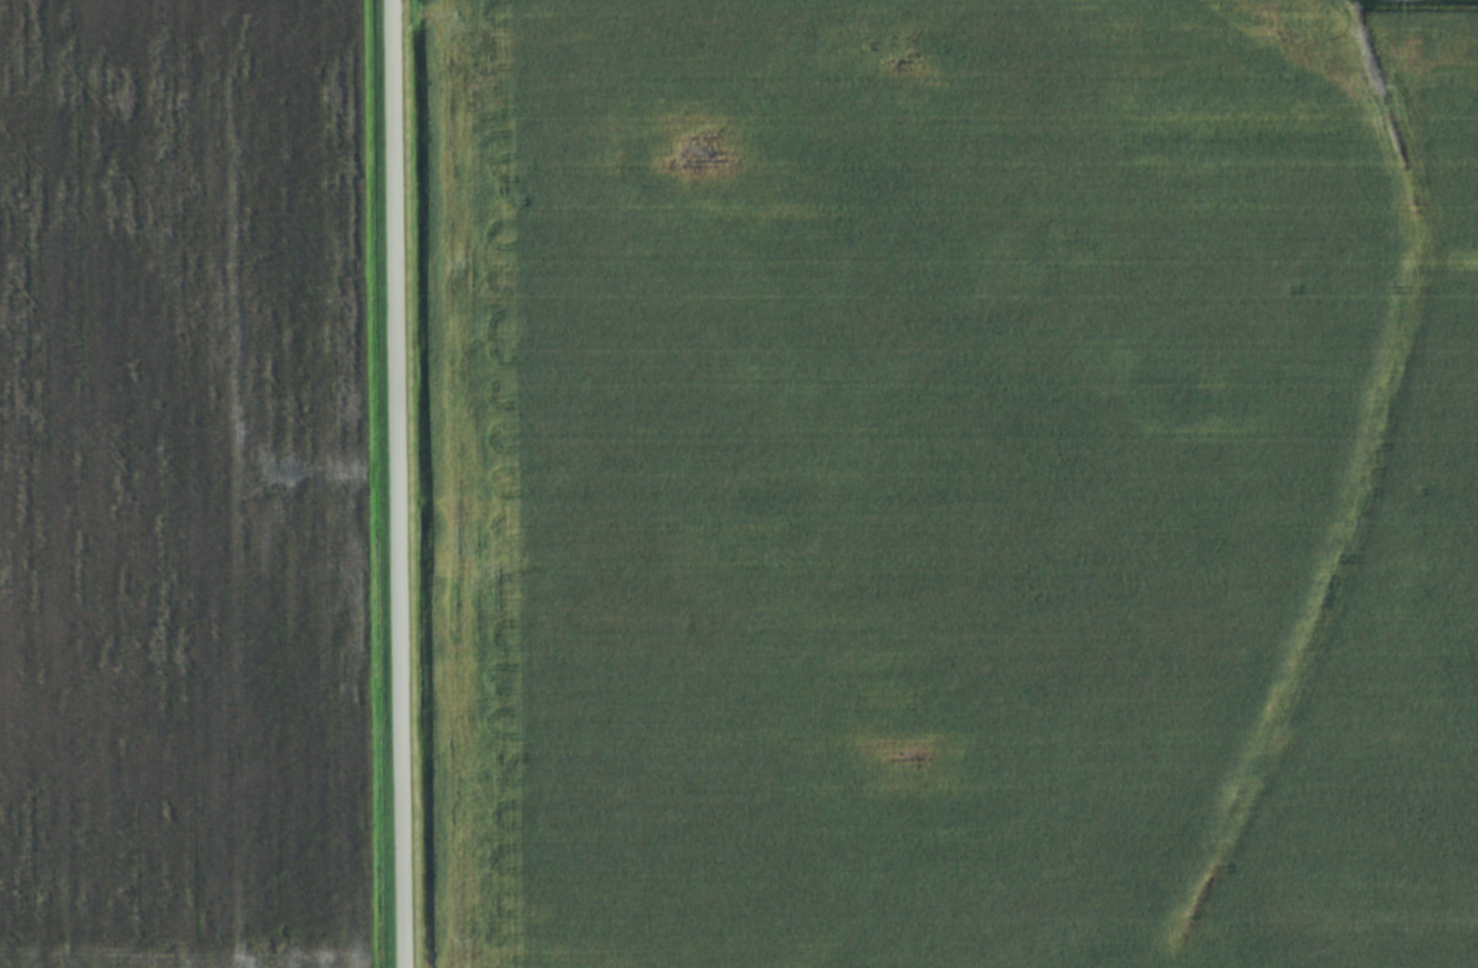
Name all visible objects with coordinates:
road: (402, 484)
crop: (181, 486)

